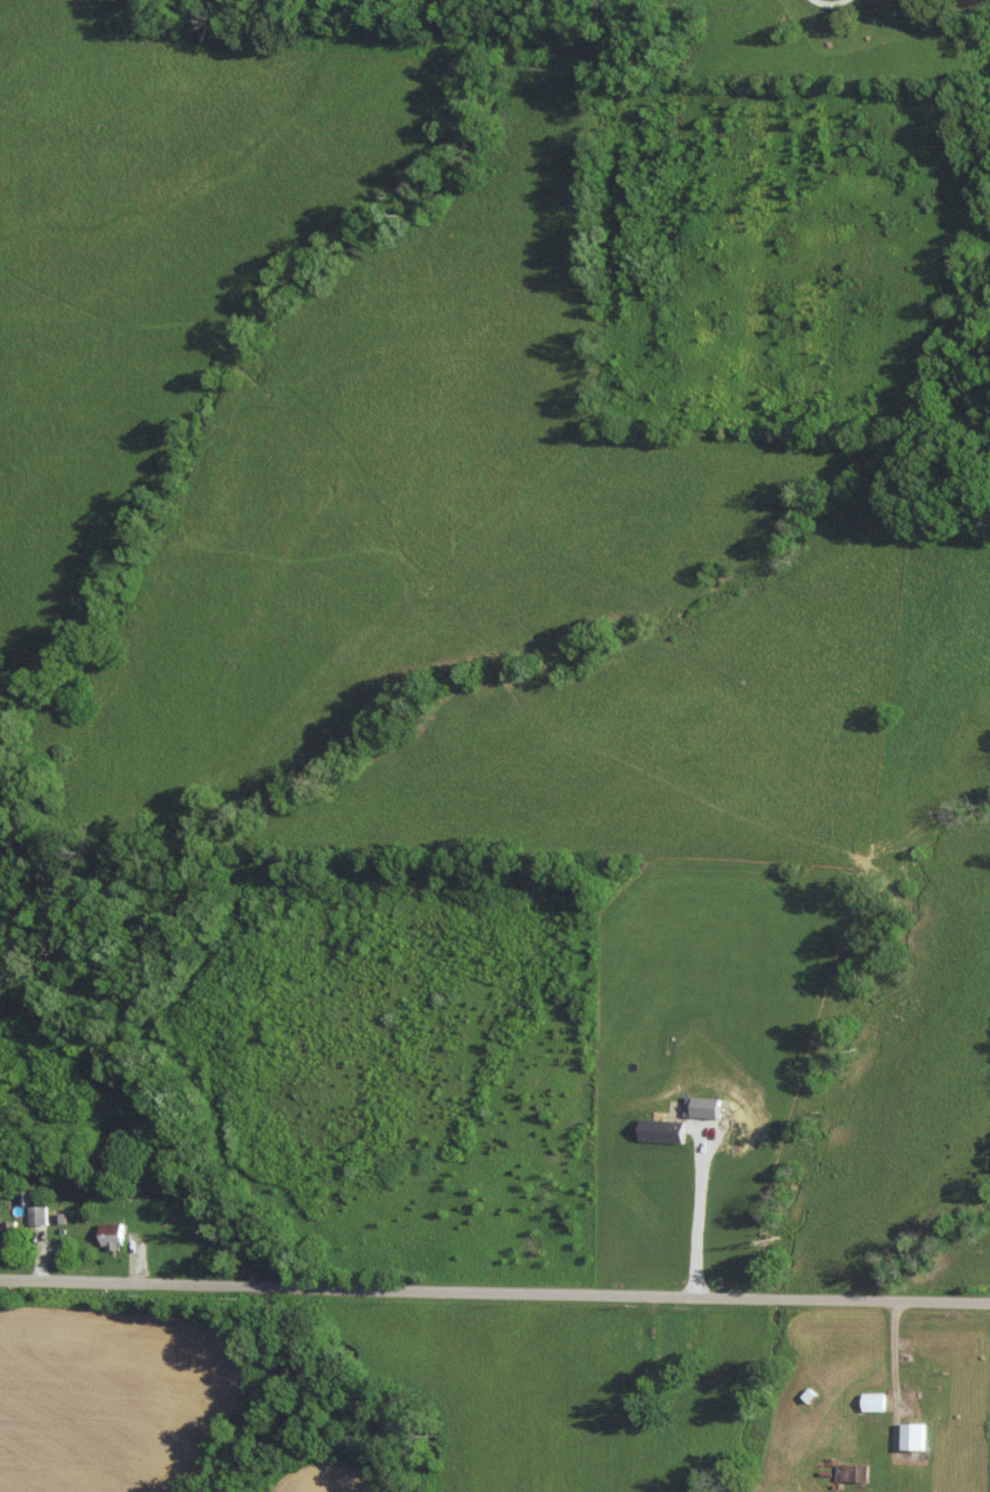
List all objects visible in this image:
building: (700, 1106)
building: (660, 1130)
building: (36, 1214)
road: (701, 1217)
building: (7, 1235)
building: (110, 1235)
road: (495, 1281)
building: (873, 1401)
building: (912, 1436)
building: (851, 1472)

